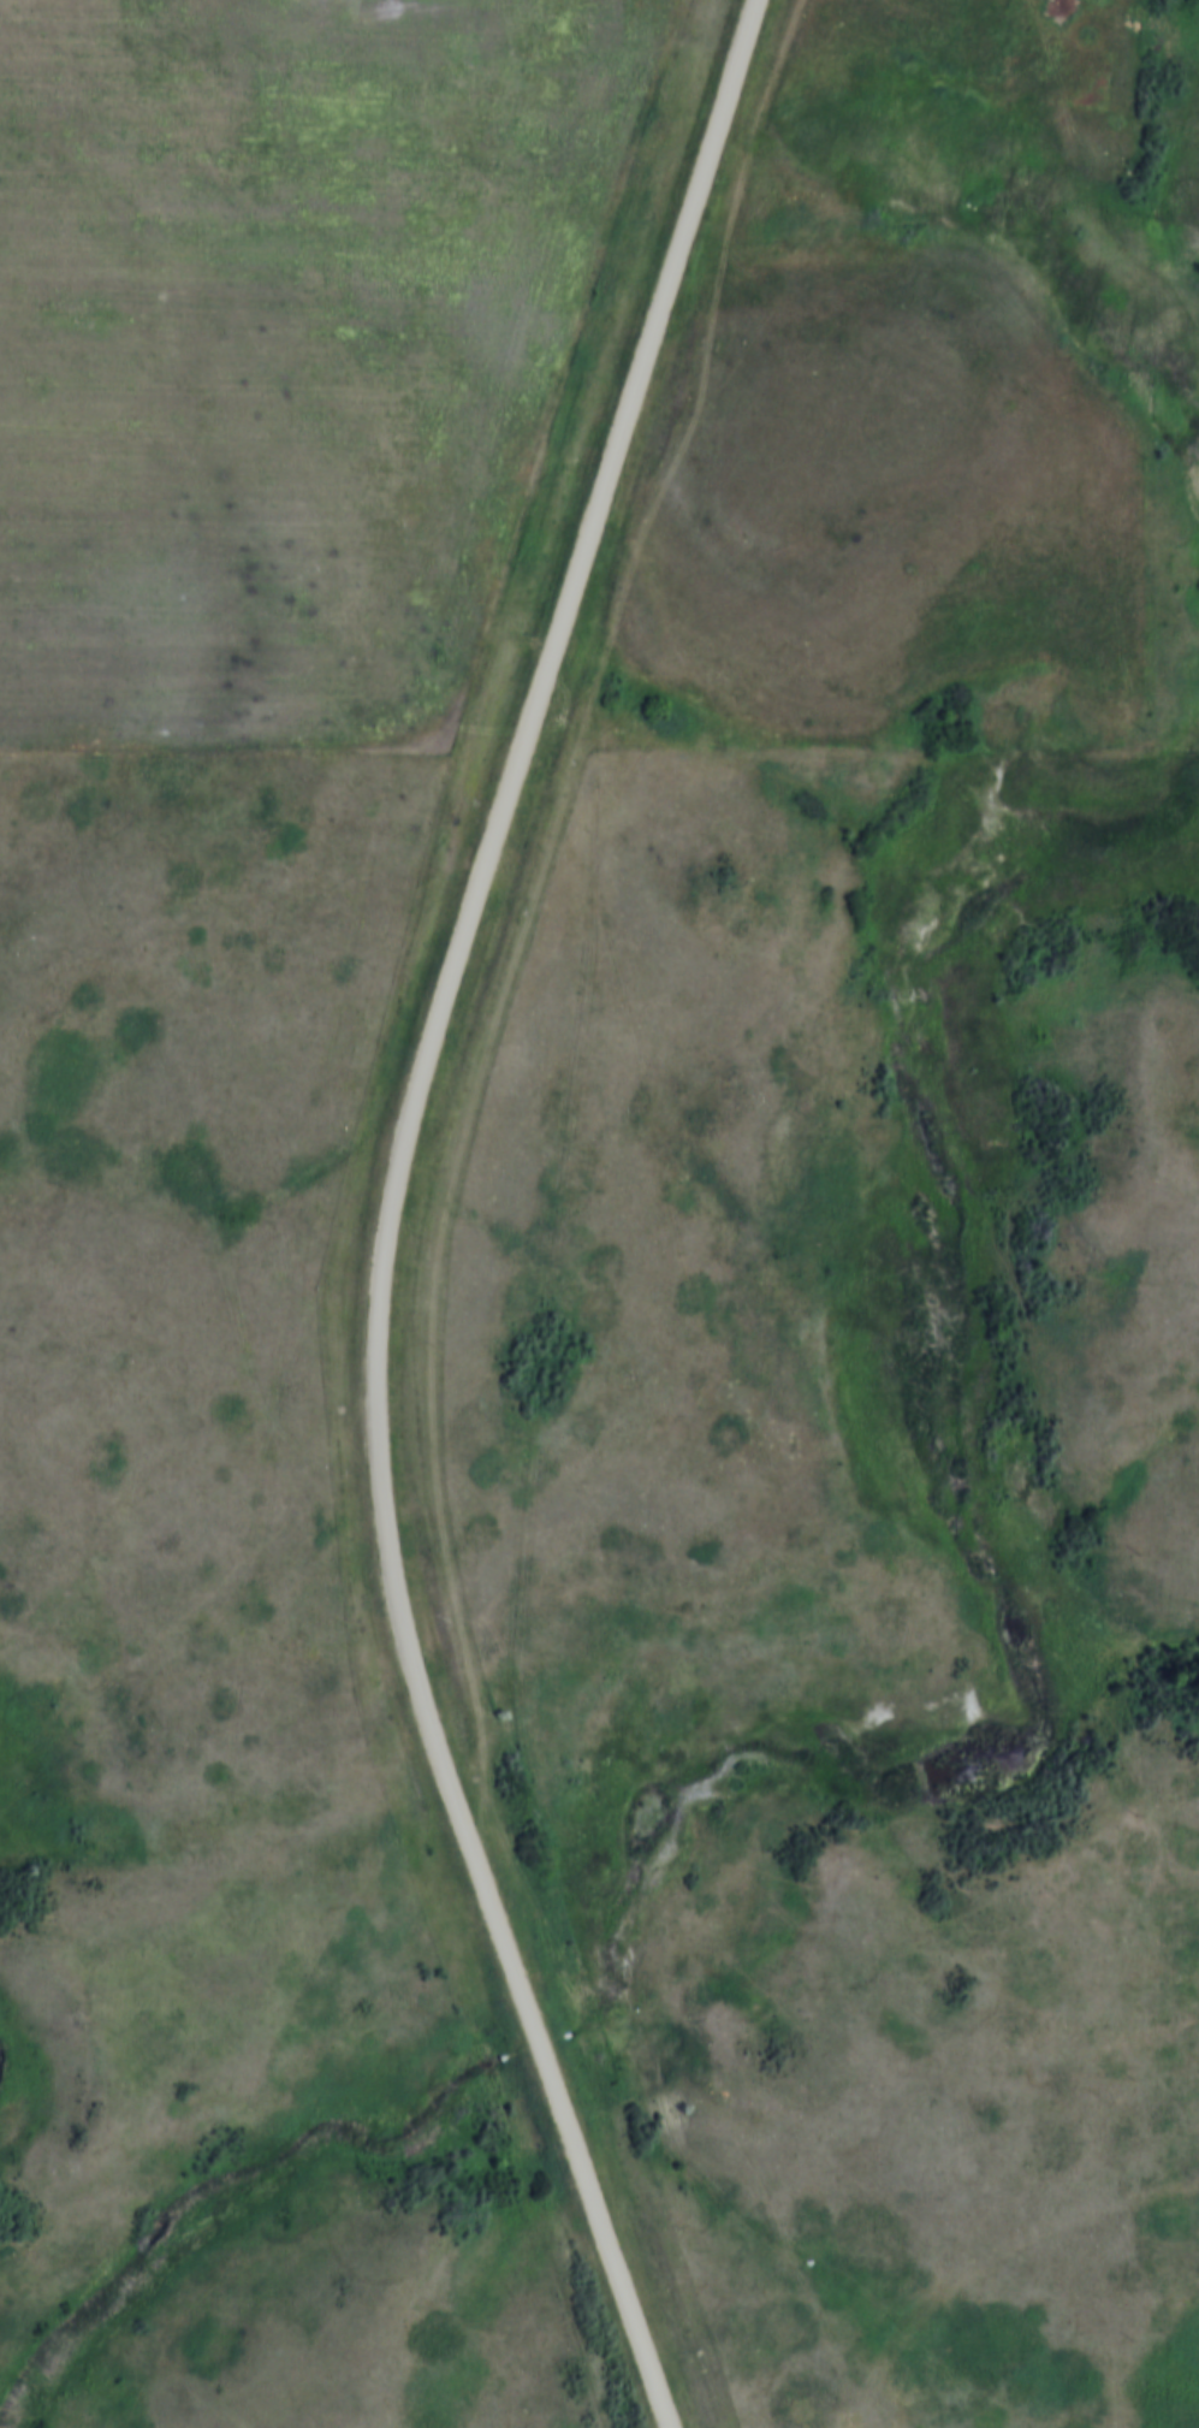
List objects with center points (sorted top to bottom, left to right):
road: (188, 1037)
road: (391, 1209)

